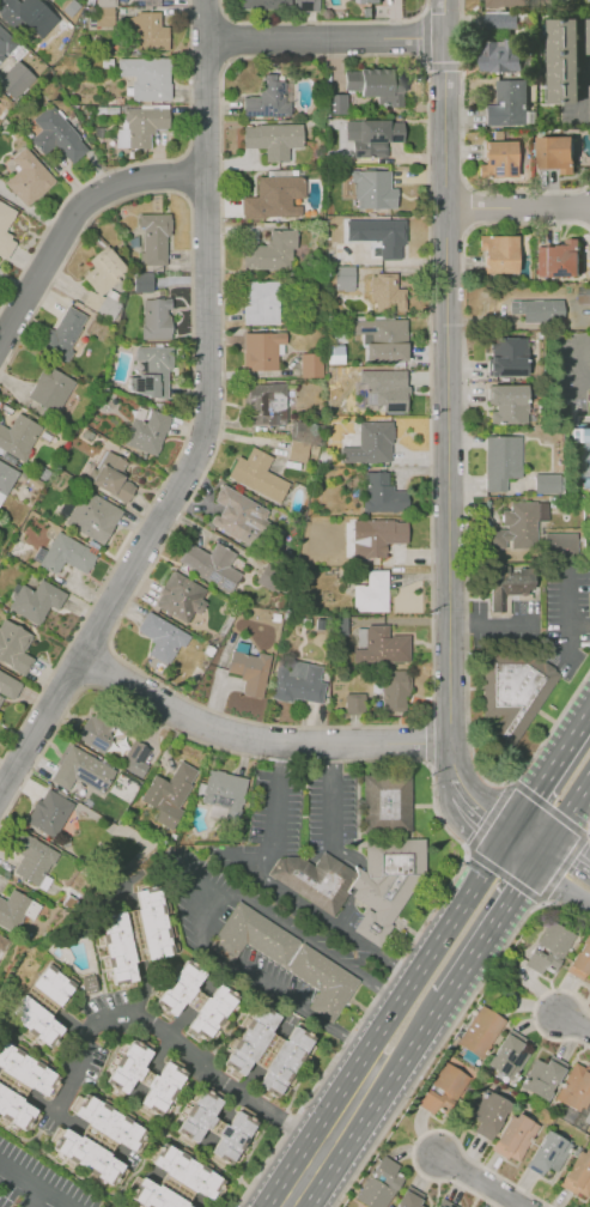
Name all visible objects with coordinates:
building: (371, 1)
building: (152, 2)
building: (507, 2)
building: (107, 4)
building: (266, 5)
building: (305, 5)
building: (71, 7)
building: (22, 13)
building: (104, 16)
road: (211, 19)
road: (322, 20)
building: (500, 20)
building: (147, 32)
building: (589, 36)
road: (225, 37)
road: (328, 37)
road: (422, 37)
building: (6, 41)
building: (500, 54)
building: (564, 59)
road: (442, 66)
road: (586, 69)
building: (147, 77)
building: (16, 80)
building: (376, 85)
building: (267, 98)
building: (507, 102)
building: (335, 103)
building: (145, 125)
building: (57, 135)
building: (372, 137)
building: (274, 138)
building: (554, 151)
road: (202, 152)
road: (463, 154)
building: (499, 158)
road: (134, 162)
road: (184, 174)
building: (29, 177)
building: (372, 188)
road: (202, 196)
building: (275, 199)
road: (519, 211)
road: (72, 224)
building: (5, 233)
building: (390, 238)
building: (154, 239)
building: (272, 251)
building: (499, 253)
building: (556, 259)
building: (103, 271)
building: (342, 278)
building: (141, 283)
building: (389, 292)
building: (583, 293)
building: (104, 301)
building: (261, 303)
building: (536, 309)
building: (154, 317)
building: (62, 334)
building: (382, 339)
building: (261, 350)
building: (507, 356)
road: (191, 363)
building: (311, 365)
road: (583, 369)
building: (153, 370)
road: (586, 374)
road: (449, 382)
building: (49, 388)
building: (384, 388)
building: (266, 404)
building: (507, 404)
building: (147, 431)
building: (300, 431)
building: (583, 435)
building: (19, 436)
road: (205, 442)
building: (370, 443)
building: (314, 449)
building: (297, 451)
building: (504, 460)
building: (258, 475)
building: (5, 478)
building: (110, 478)
building: (548, 483)
building: (381, 493)
building: (92, 515)
building: (237, 515)
road: (464, 524)
building: (522, 524)
building: (379, 536)
building: (559, 544)
building: (66, 553)
building: (211, 565)
building: (270, 578)
building: (507, 583)
building: (371, 592)
building: (181, 596)
building: (37, 600)
road: (566, 614)
parking lot: (567, 614)
road: (491, 624)
parking lot: (504, 624)
road: (578, 625)
building: (162, 637)
building: (381, 645)
building: (14, 647)
road: (98, 665)
building: (250, 672)
building: (298, 685)
building: (8, 686)
building: (395, 691)
building: (512, 691)
road: (175, 692)
building: (353, 703)
building: (97, 730)
road: (255, 734)
road: (428, 739)
building: (134, 758)
road: (430, 764)
building: (81, 771)
road: (549, 771)
road: (332, 789)
building: (224, 791)
building: (168, 794)
road: (470, 805)
parking lot: (304, 811)
road: (491, 812)
building: (50, 813)
road: (564, 817)
road: (589, 829)
traffic signals: (509, 835)
road: (523, 844)
traffic signals: (539, 855)
building: (30, 857)
building: (367, 860)
road: (565, 868)
road: (564, 872)
road: (276, 881)
road: (206, 898)
building: (12, 906)
parking lot: (266, 906)
road: (492, 926)
building: (134, 934)
building: (2, 942)
building: (549, 948)
building: (290, 956)
road: (425, 960)
building: (580, 960)
building: (87, 982)
building: (197, 996)
building: (42, 1006)
road: (536, 1009)
road: (573, 1019)
road: (450, 1030)
building: (480, 1035)
road: (169, 1041)
building: (455, 1041)
building: (266, 1051)
road: (409, 1053)
building: (509, 1055)
building: (145, 1075)
building: (543, 1076)
building: (19, 1087)
building: (576, 1087)
building: (444, 1088)
building: (489, 1111)
building: (567, 1114)
building: (583, 1118)
building: (218, 1126)
road: (434, 1132)
building: (515, 1138)
building: (97, 1139)
road: (324, 1151)
building: (549, 1153)
building: (578, 1175)
road: (38, 1182)
building: (175, 1182)
road: (486, 1183)
parking lot: (35, 1184)
building: (381, 1184)
building: (355, 1190)
road: (34, 1195)
building: (410, 1197)
building: (446, 1203)
building: (390, 1205)

